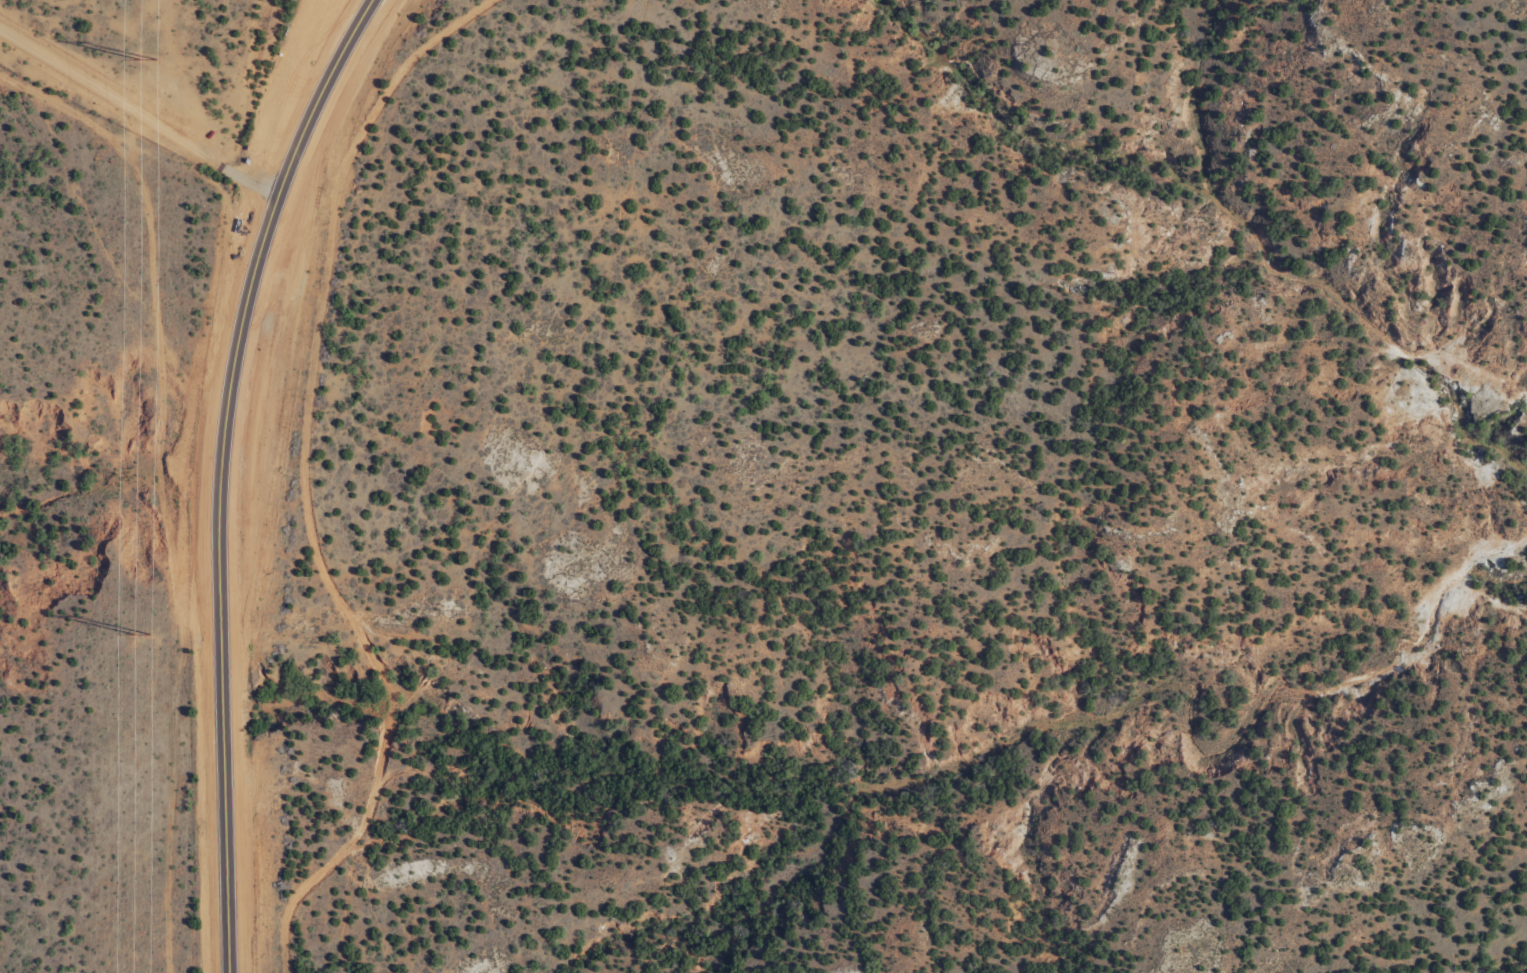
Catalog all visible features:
power tower: (147, 60)
road: (161, 125)
road: (240, 482)
power tower: (142, 634)

